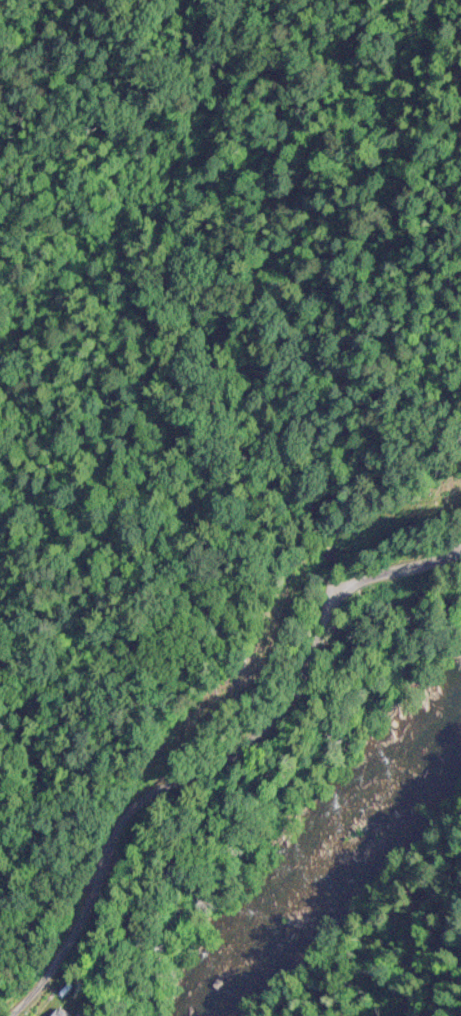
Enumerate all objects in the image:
road: (105, 712)
road: (211, 753)
river: (327, 864)
building: (51, 1013)

